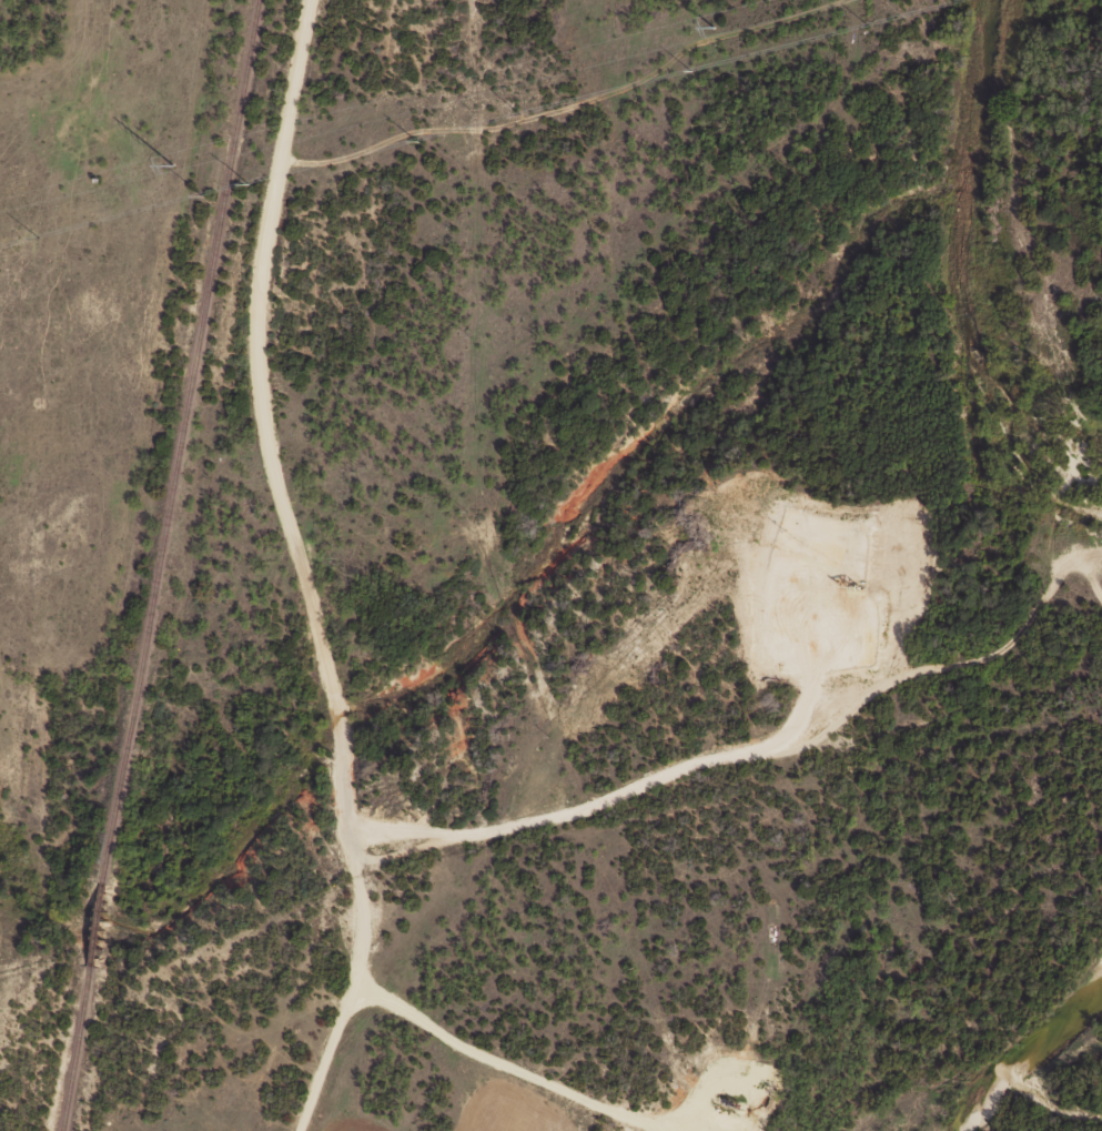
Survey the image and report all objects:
power tower: (708, 27)
power tower: (169, 165)
railway: (153, 565)
road: (299, 660)
road: (326, 1056)

